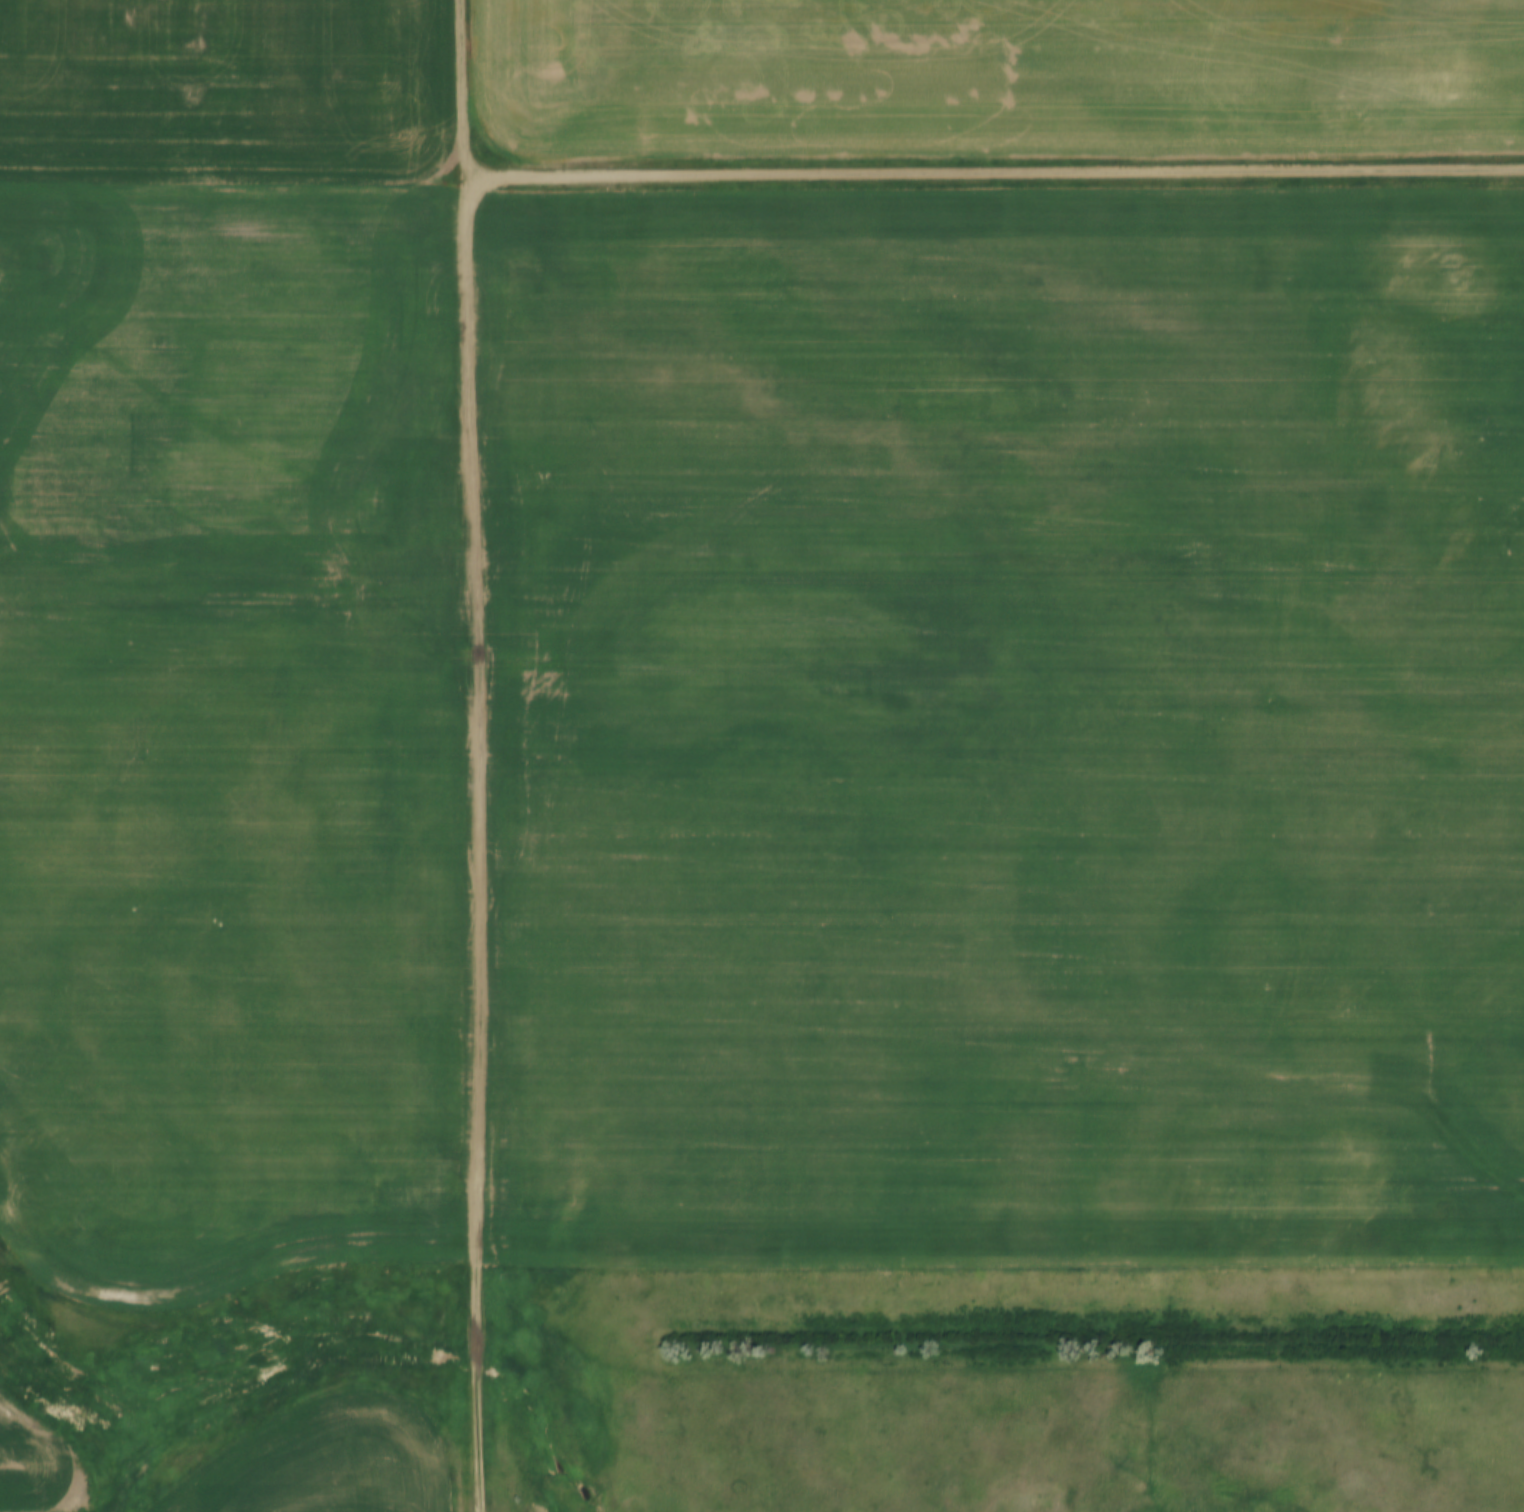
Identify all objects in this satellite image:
road: (761, 176)
road: (476, 755)

